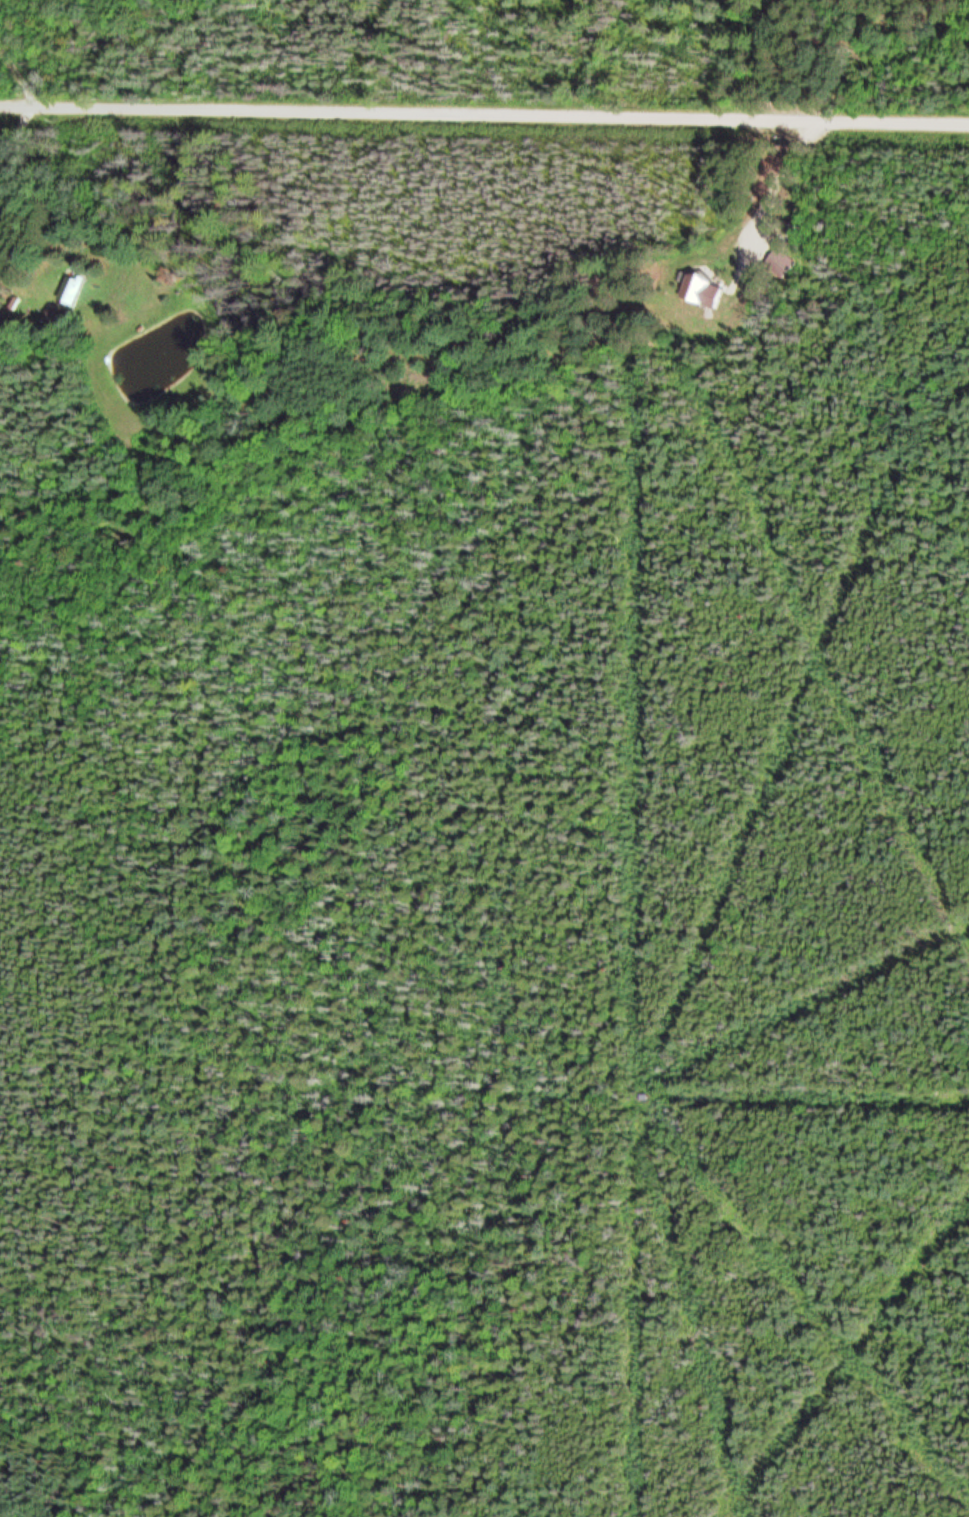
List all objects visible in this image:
road: (17, 80)
road: (484, 115)
road: (780, 178)
building: (75, 289)

